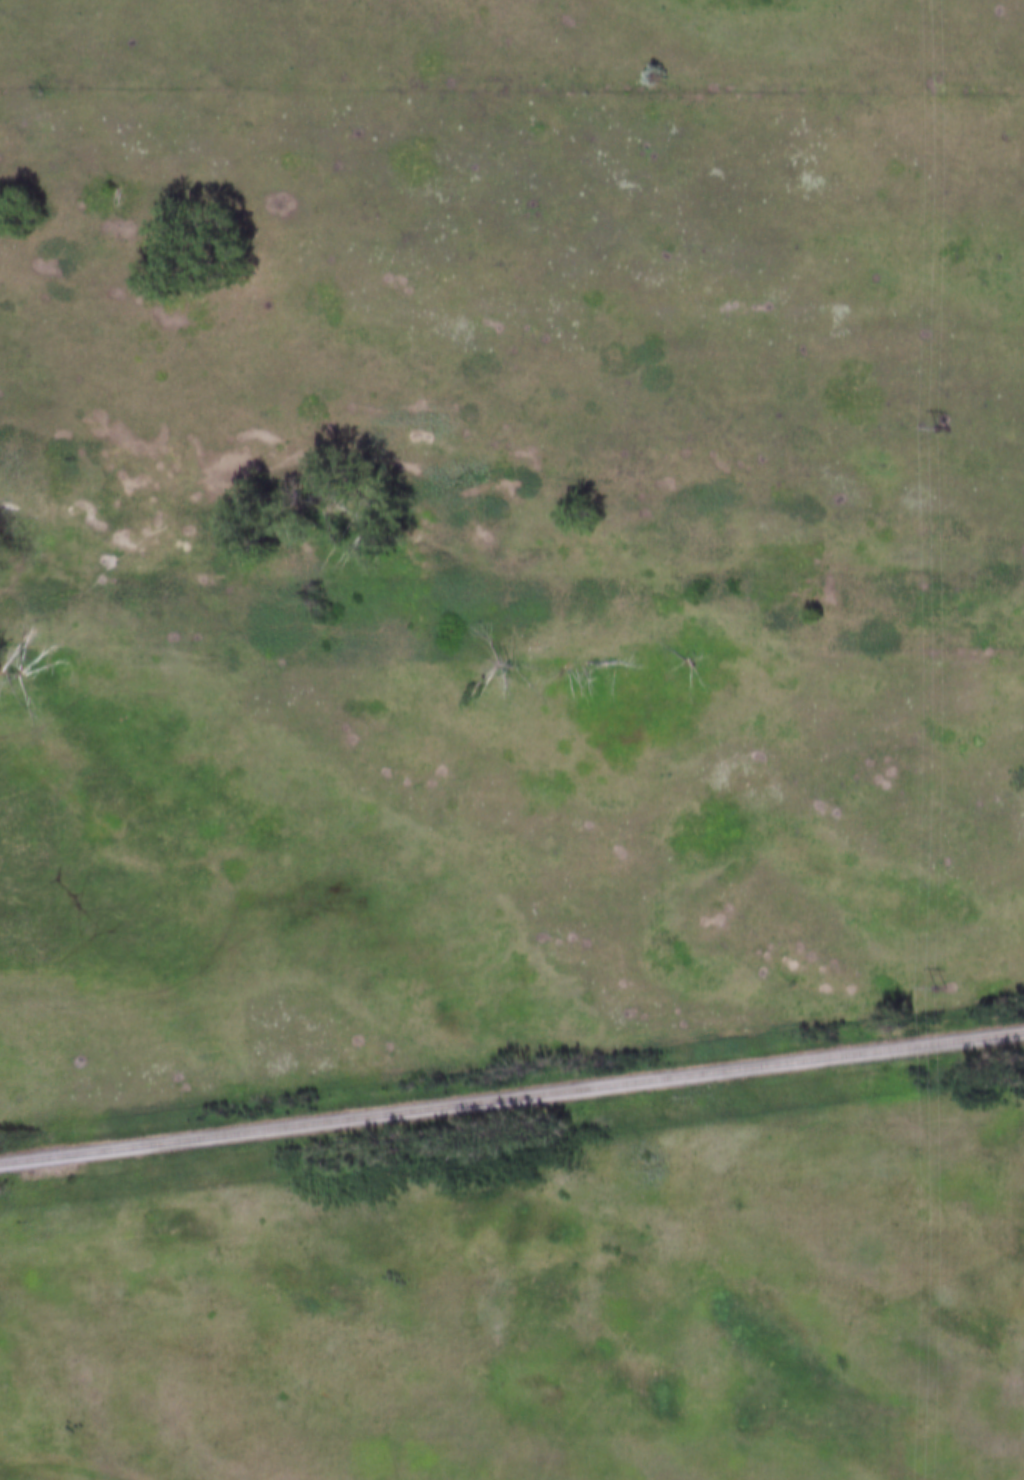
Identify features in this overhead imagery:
railway: (512, 1096)

